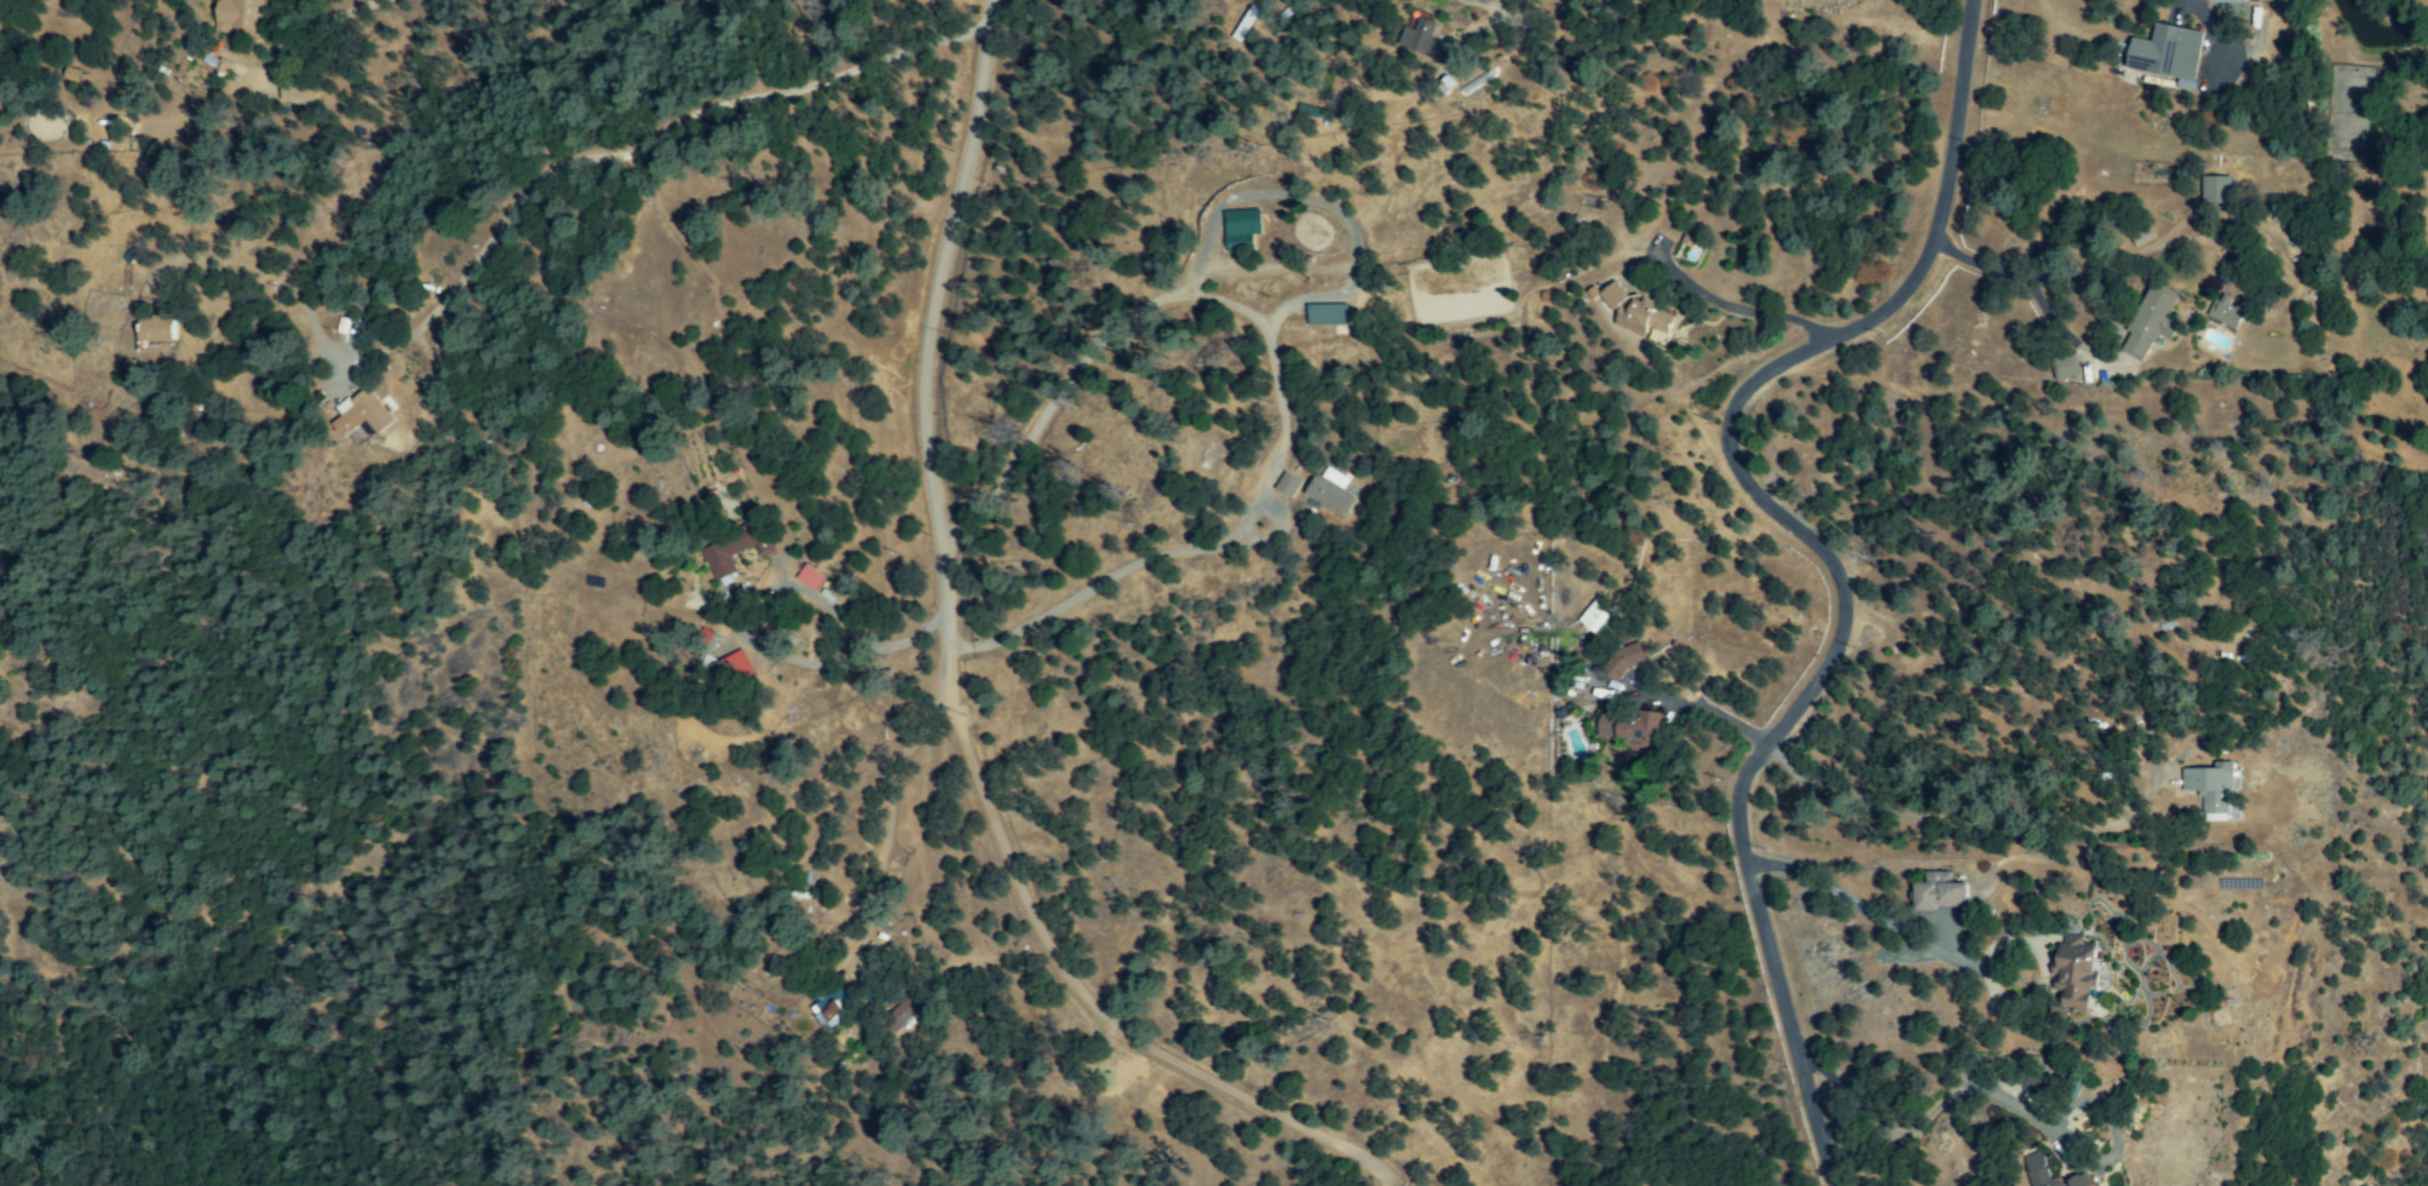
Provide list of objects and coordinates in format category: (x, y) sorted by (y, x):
building: (2227, 1)
building: (241, 15)
building: (1423, 40)
building: (2168, 53)
road: (664, 133)
building: (2217, 190)
building: (1242, 230)
road: (289, 294)
building: (1615, 296)
building: (1370, 303)
building: (2228, 312)
building: (1328, 315)
building: (1645, 318)
building: (2152, 322)
building: (157, 330)
road: (2071, 345)
road: (1272, 368)
building: (2065, 368)
road: (1748, 385)
building: (362, 415)
building: (1288, 485)
building: (1330, 491)
building: (731, 551)
building: (811, 578)
building: (1599, 618)
building: (1624, 660)
road: (832, 664)
building: (727, 670)
road: (939, 690)
building: (1628, 727)
building: (2217, 793)
road: (1832, 892)
building: (1944, 896)
building: (2082, 978)
road: (1777, 984)
building: (834, 1008)
building: (902, 1015)
building: (2043, 1093)
building: (2043, 1161)

